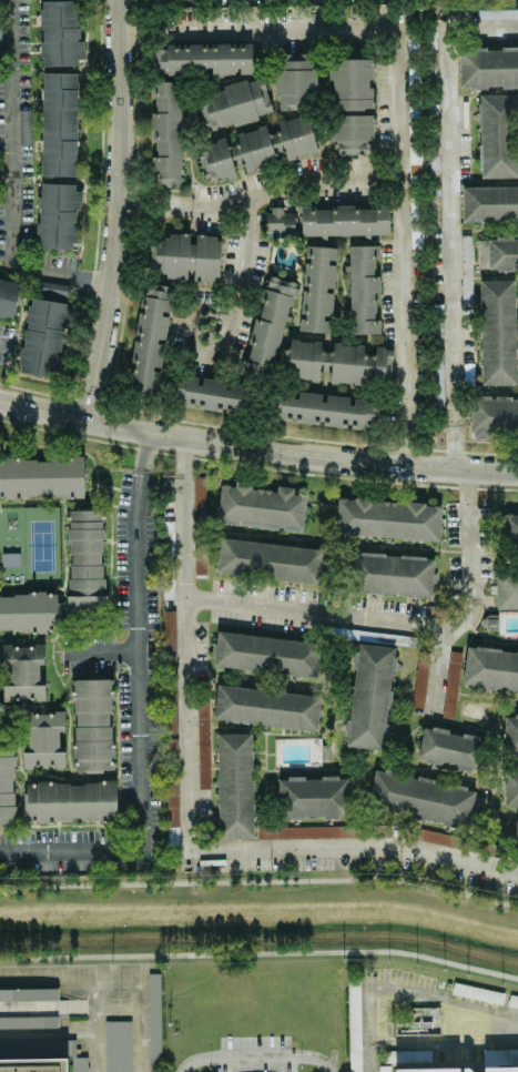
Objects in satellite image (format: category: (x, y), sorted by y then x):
building: (497, 14)
building: (60, 33)
building: (487, 68)
building: (295, 82)
building: (351, 104)
building: (232, 105)
road: (398, 107)
building: (59, 124)
building: (23, 127)
building: (498, 136)
building: (165, 149)
building: (254, 149)
building: (414, 159)
road: (4, 180)
road: (10, 181)
road: (450, 192)
road: (261, 194)
building: (489, 205)
road: (118, 210)
building: (57, 216)
building: (344, 221)
building: (278, 223)
road: (97, 233)
building: (497, 254)
building: (183, 257)
building: (317, 289)
building: (363, 290)
building: (8, 297)
road: (225, 332)
building: (44, 334)
building: (497, 334)
building: (149, 340)
building: (262, 345)
road: (3, 347)
building: (334, 362)
road: (111, 406)
building: (325, 411)
building: (492, 417)
road: (453, 444)
road: (256, 446)
road: (149, 451)
road: (186, 456)
road: (257, 467)
building: (41, 478)
building: (261, 507)
building: (388, 520)
building: (514, 533)
road: (467, 535)
park: (12, 546)
park: (41, 546)
building: (85, 560)
building: (167, 560)
building: (266, 560)
building: (392, 574)
building: (506, 590)
road: (315, 610)
building: (27, 613)
road: (109, 646)
road: (437, 651)
building: (266, 657)
building: (490, 669)
building: (21, 674)
building: (419, 680)
building: (450, 685)
building: (369, 696)
building: (266, 709)
building: (91, 725)
road: (141, 732)
building: (511, 735)
building: (43, 740)
building: (449, 750)
building: (203, 758)
building: (235, 786)
building: (511, 789)
building: (7, 790)
building: (311, 797)
building: (421, 800)
building: (69, 801)
road: (190, 826)
building: (515, 838)
building: (451, 841)
road: (260, 886)
road: (260, 952)
road: (55, 983)
road: (403, 992)
building: (28, 994)
building: (512, 1002)
road: (68, 1010)
building: (153, 1019)
road: (136, 1021)
building: (32, 1022)
building: (354, 1027)
road: (92, 1028)
road: (45, 1038)
building: (118, 1046)
building: (408, 1056)
road: (253, 1058)
building: (32, 1065)
building: (384, 1069)
building: (500, 1069)
building: (430, 1070)

